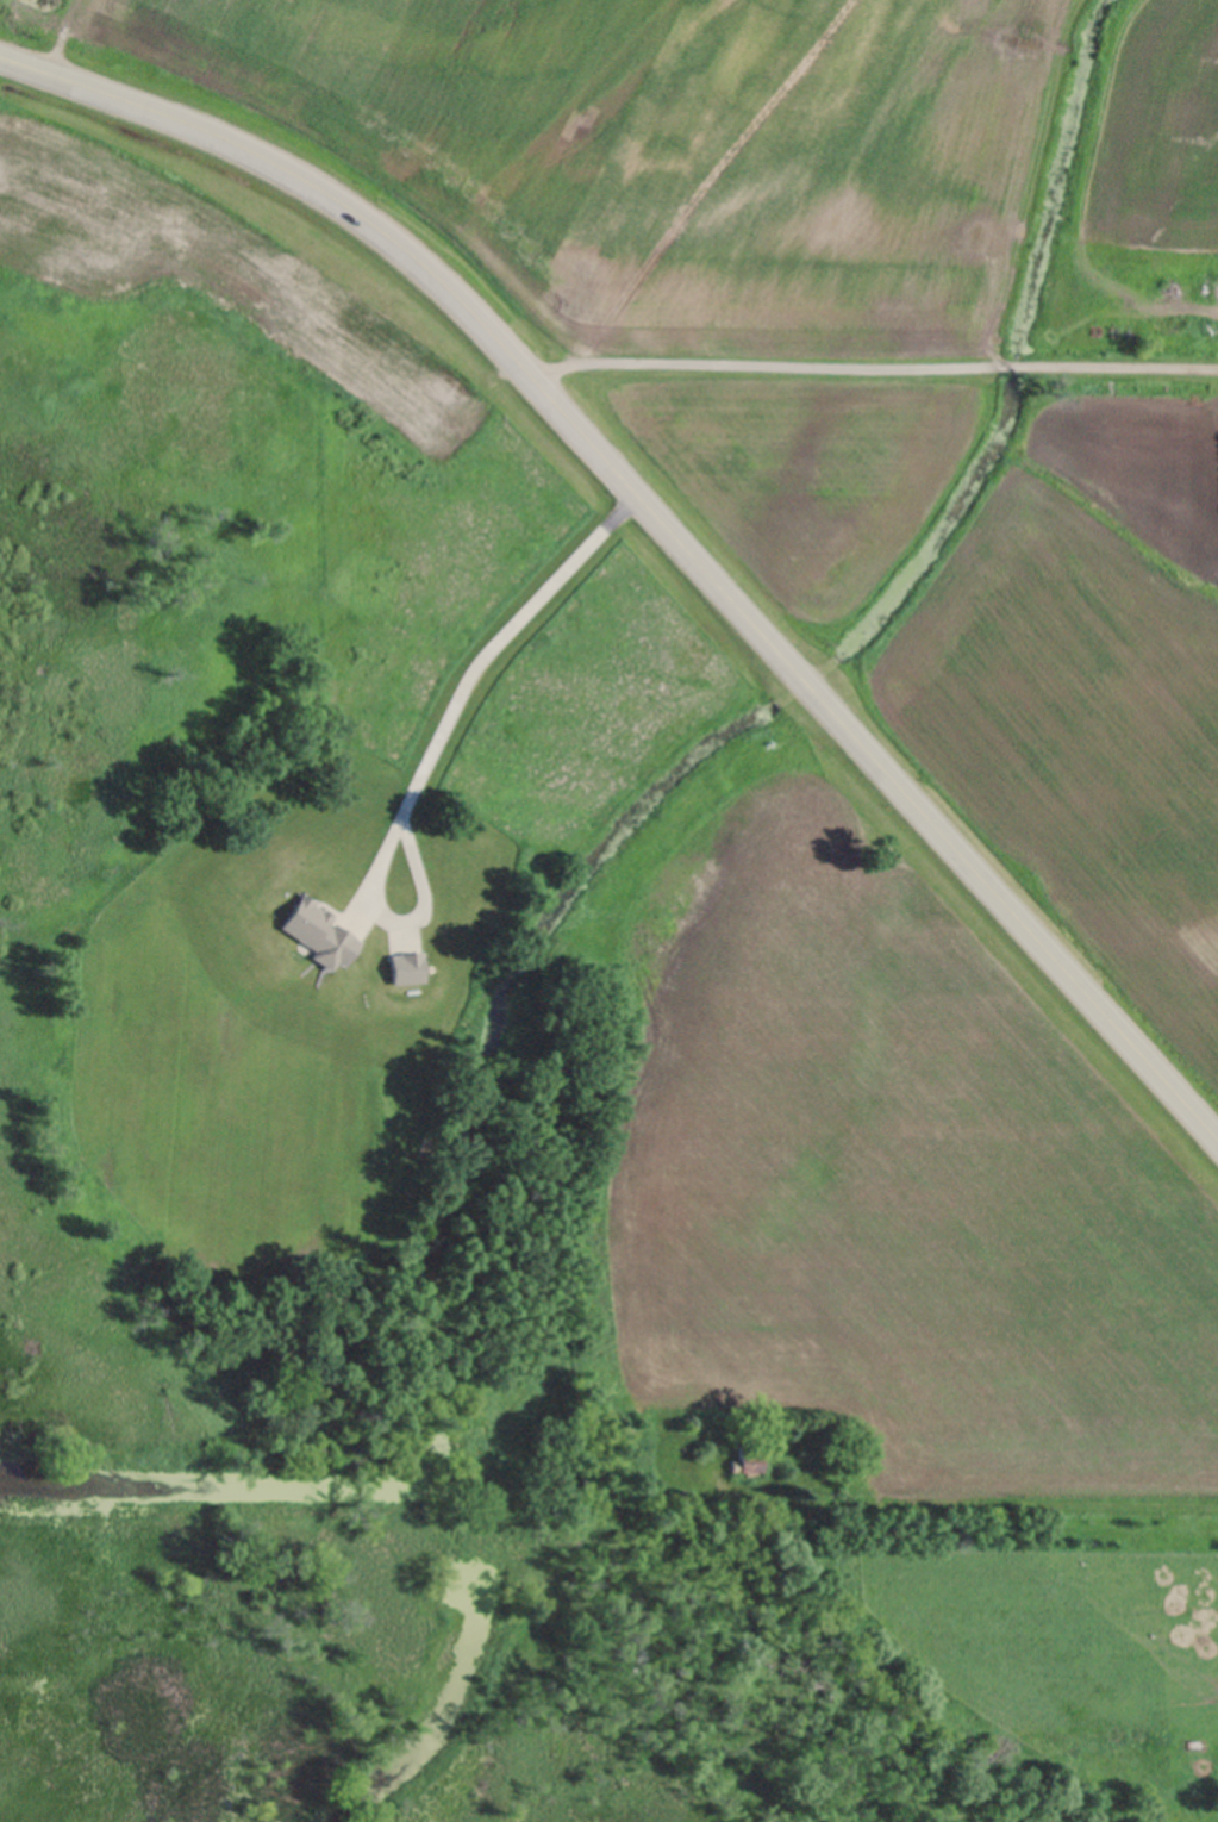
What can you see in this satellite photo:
road: (454, 297)
building: (1212, 327)
road: (869, 360)
building: (1017, 367)
road: (425, 741)
road: (1010, 910)
building: (316, 932)
building: (404, 966)
building: (744, 1459)
building: (668, 1497)

